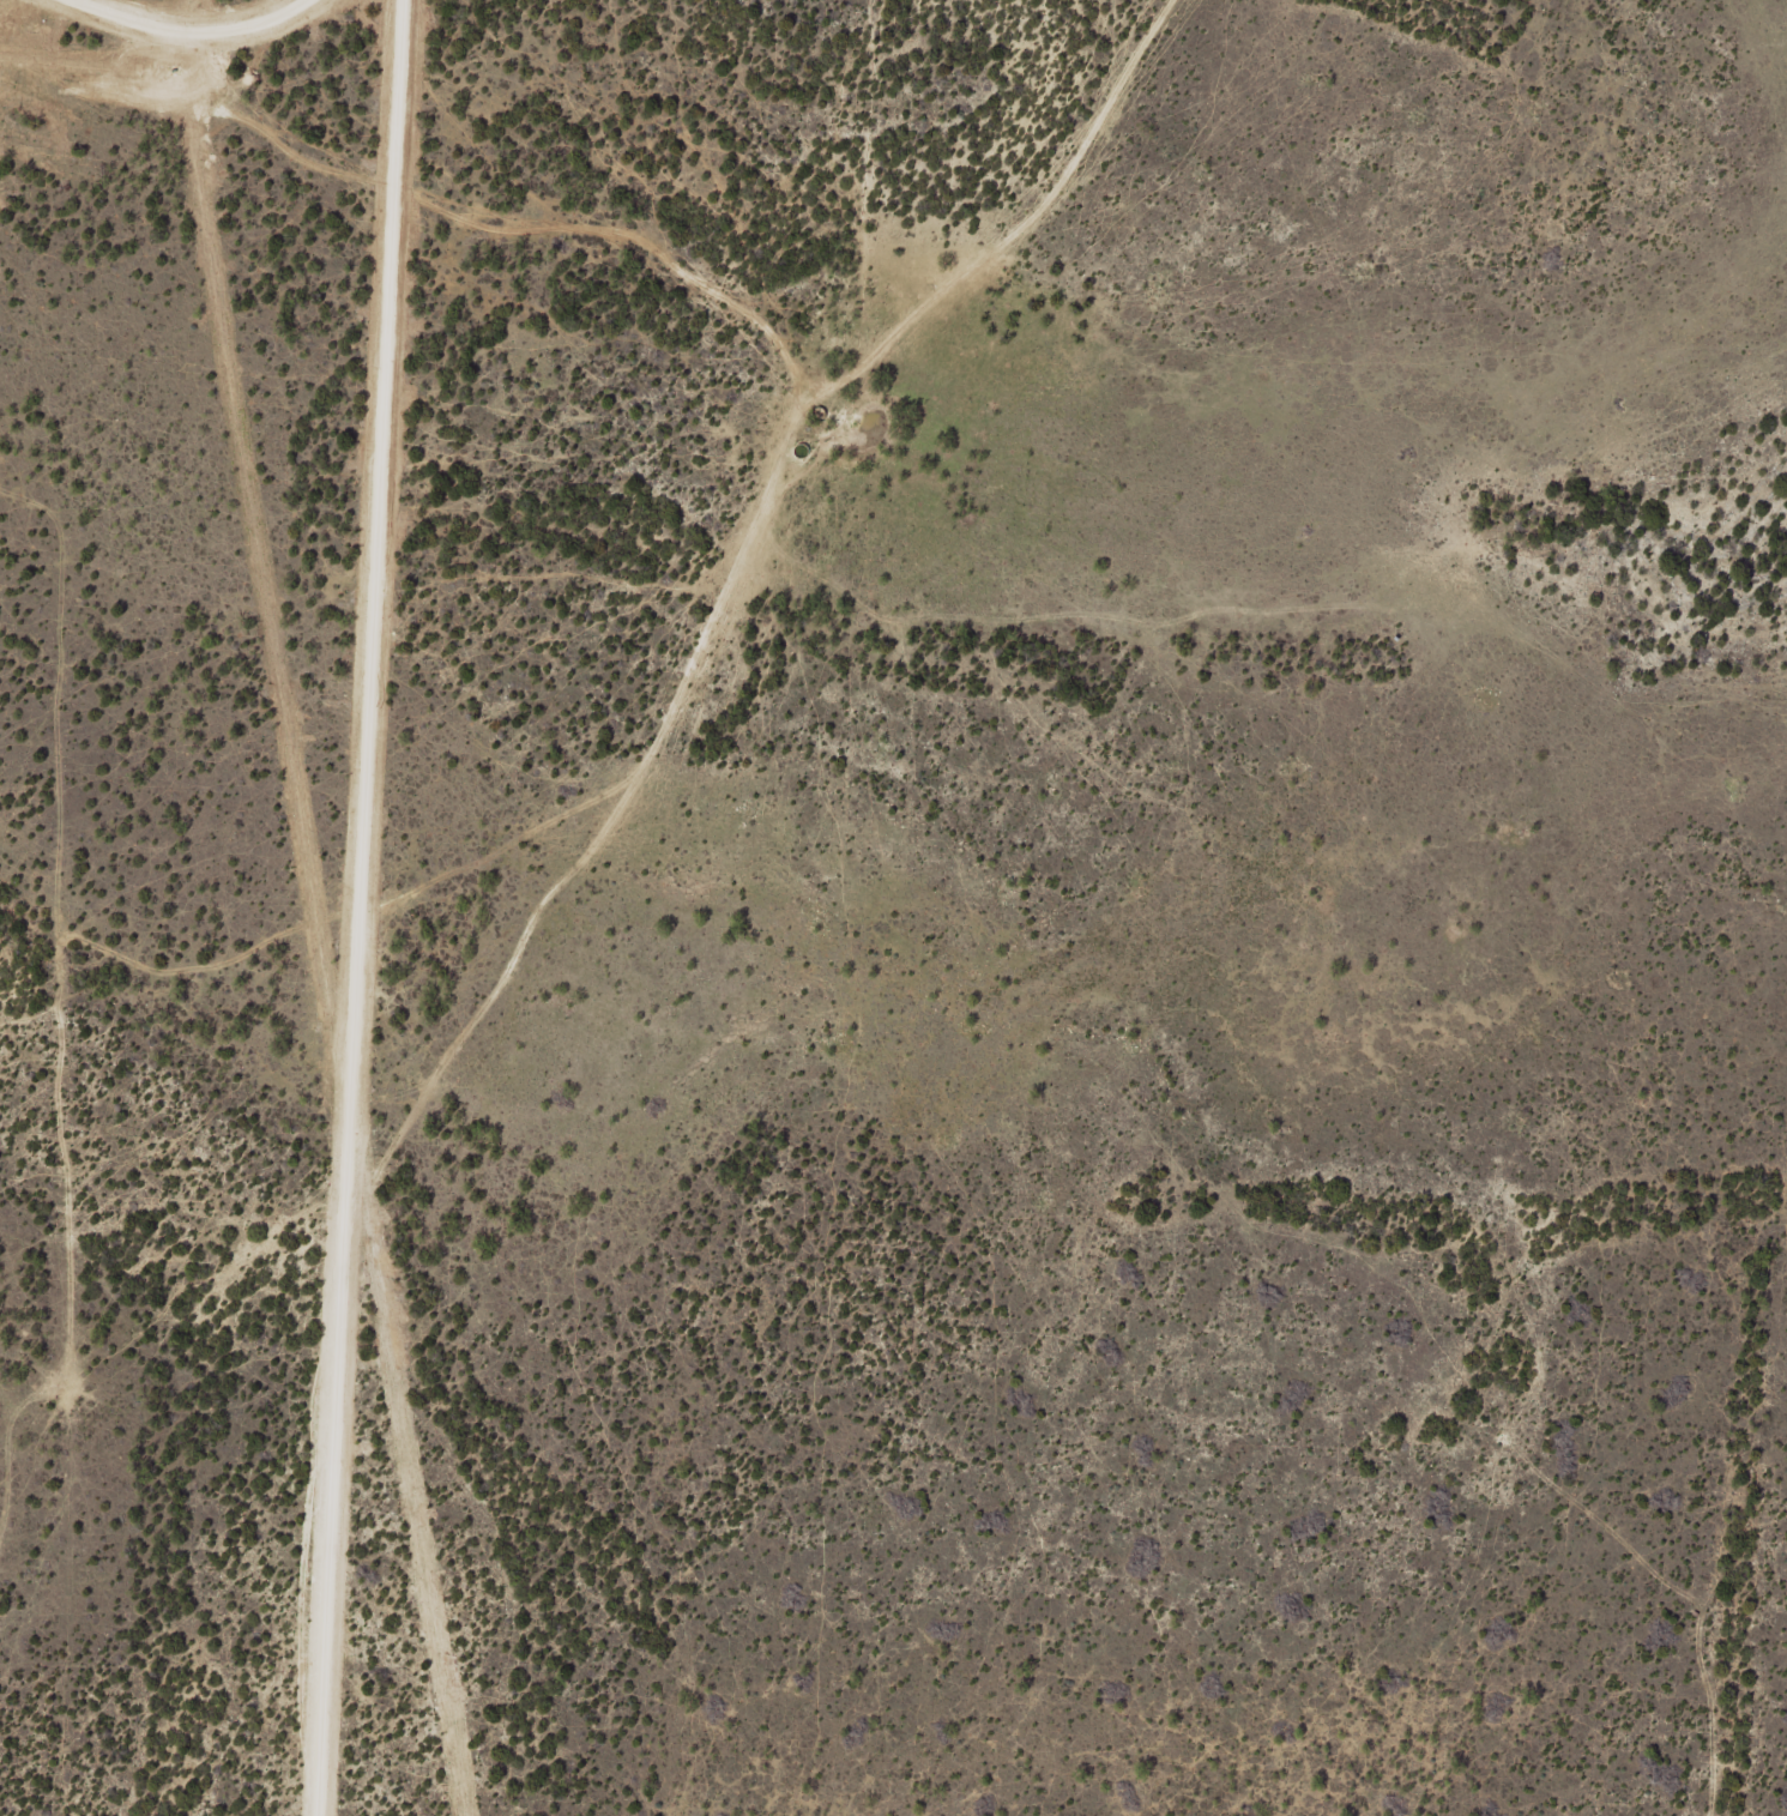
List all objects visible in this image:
road: (659, 758)
road: (327, 1524)

